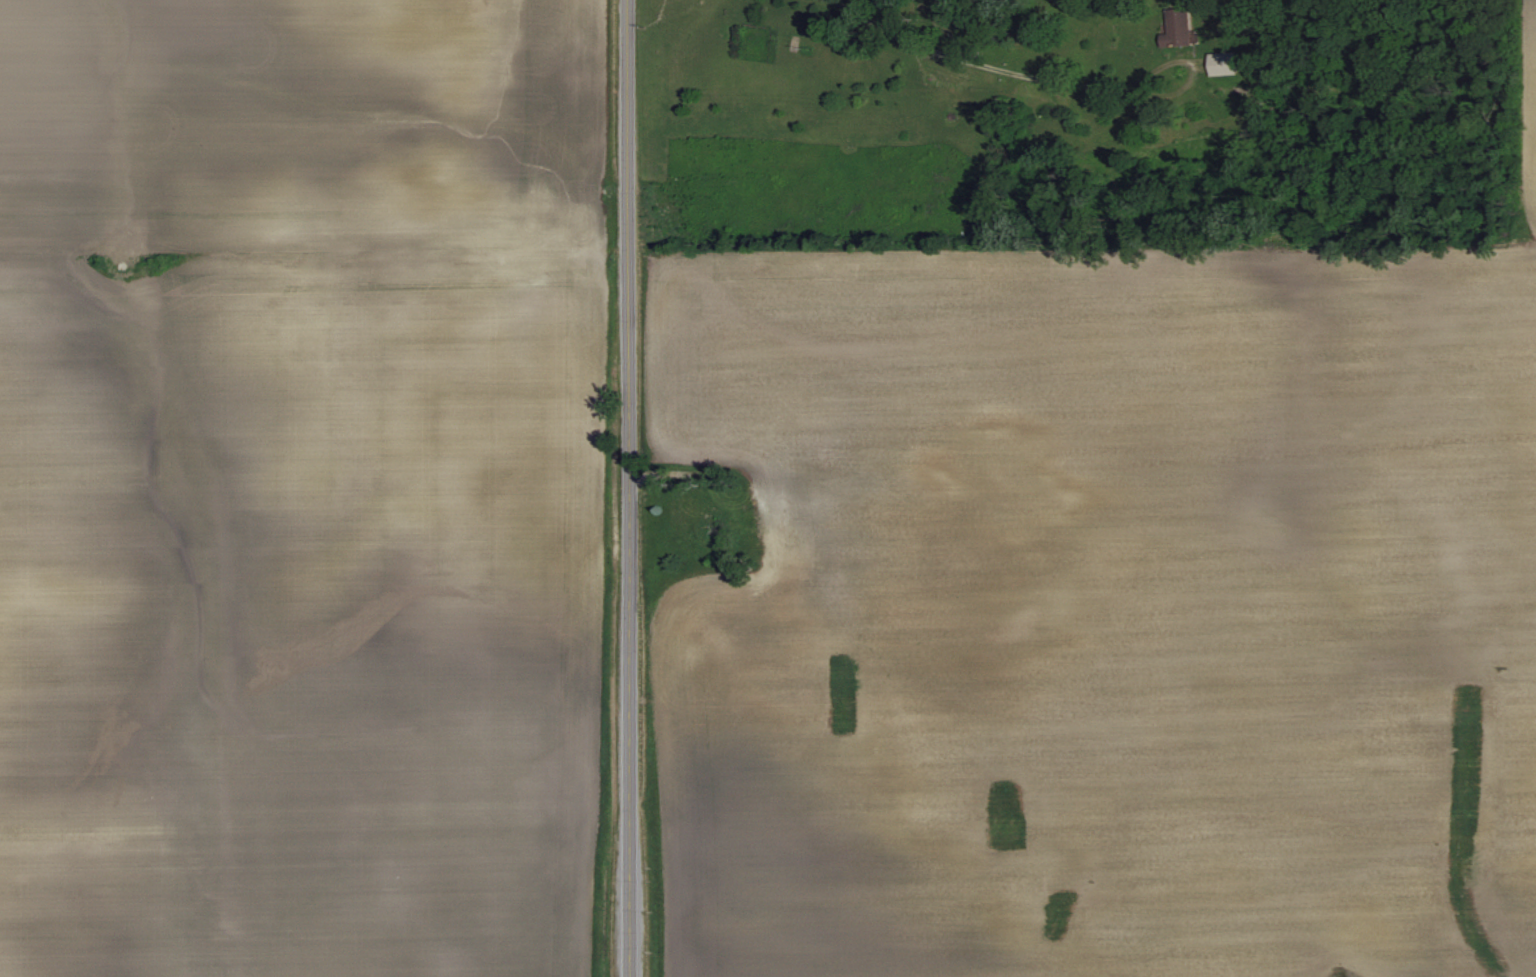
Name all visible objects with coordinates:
building: (1177, 28)
road: (976, 60)
building: (1222, 63)
road: (1195, 68)
road: (625, 488)

